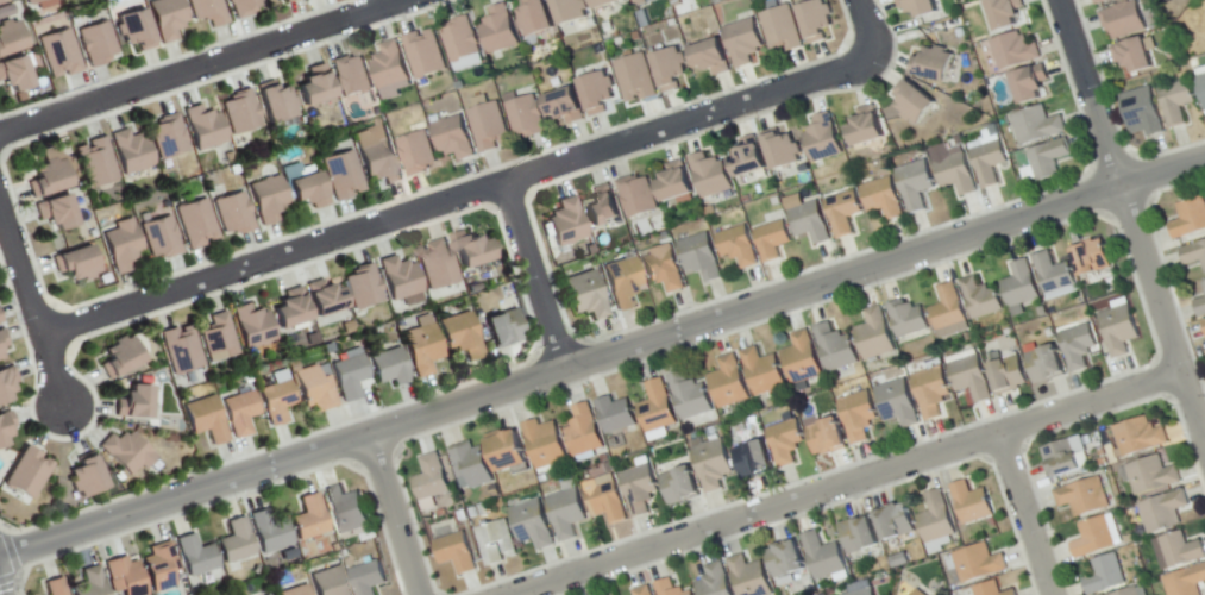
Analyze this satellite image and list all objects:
building: (0, 0)
building: (31, 1)
building: (288, 1)
building: (1102, 1)
building: (640, 2)
building: (603, 4)
building: (918, 7)
building: (244, 8)
building: (5, 10)
building: (569, 11)
building: (208, 12)
building: (1004, 13)
building: (168, 18)
building: (534, 18)
building: (815, 20)
building: (1123, 20)
road: (858, 26)
building: (131, 27)
building: (782, 29)
building: (498, 30)
building: (8, 38)
building: (460, 39)
building: (742, 42)
building: (96, 43)
building: (1015, 51)
building: (59, 54)
building: (425, 54)
building: (709, 57)
building: (1132, 57)
building: (389, 64)
building: (931, 64)
road: (202, 67)
building: (669, 68)
building: (13, 75)
building: (351, 76)
building: (634, 79)
building: (1029, 84)
building: (314, 86)
building: (1201, 86)
building: (595, 93)
building: (912, 101)
building: (1176, 102)
building: (274, 104)
building: (563, 106)
building: (241, 112)
building: (1143, 112)
building: (525, 117)
building: (489, 126)
building: (864, 126)
building: (1036, 126)
building: (203, 127)
building: (168, 137)
building: (452, 138)
building: (822, 138)
building: (132, 151)
building: (780, 151)
building: (416, 154)
building: (1048, 158)
building: (746, 159)
building: (989, 162)
building: (95, 163)
building: (378, 163)
building: (955, 173)
building: (341, 175)
building: (710, 175)
building: (46, 178)
building: (674, 183)
building: (915, 183)
building: (306, 192)
building: (638, 196)
building: (881, 198)
building: (268, 199)
road: (453, 200)
building: (600, 211)
building: (842, 212)
building: (55, 213)
building: (234, 214)
building: (1188, 218)
road: (1131, 220)
building: (566, 223)
building: (809, 223)
building: (196, 224)
building: (161, 238)
building: (771, 239)
building: (123, 245)
building: (736, 246)
building: (470, 251)
building: (1193, 253)
building: (698, 257)
building: (1091, 261)
building: (74, 263)
building: (438, 265)
building: (664, 269)
road: (535, 276)
building: (1054, 276)
building: (400, 278)
building: (623, 282)
building: (1204, 286)
building: (363, 287)
building: (1021, 288)
building: (586, 295)
building: (980, 297)
building: (322, 299)
road: (32, 305)
building: (1200, 306)
building: (289, 311)
building: (948, 312)
building: (906, 319)
building: (503, 325)
building: (1203, 325)
building: (253, 326)
building: (1118, 330)
building: (220, 336)
building: (460, 336)
building: (873, 336)
building: (2, 339)
building: (422, 346)
building: (1078, 346)
building: (835, 349)
building: (181, 350)
road: (602, 357)
building: (0, 358)
building: (118, 358)
building: (801, 359)
building: (1044, 365)
building: (390, 368)
building: (761, 372)
building: (350, 375)
building: (1008, 376)
building: (969, 378)
building: (6, 382)
building: (728, 383)
building: (315, 389)
building: (930, 392)
building: (689, 396)
building: (277, 399)
building: (897, 403)
building: (132, 405)
building: (657, 407)
building: (241, 413)
building: (615, 414)
building: (858, 416)
building: (206, 419)
building: (5, 426)
building: (584, 432)
building: (824, 434)
building: (1138, 437)
building: (784, 443)
building: (544, 444)
building: (503, 451)
building: (127, 452)
building: (1066, 457)
building: (753, 459)
building: (470, 464)
building: (713, 464)
building: (27, 474)
building: (1151, 476)
building: (84, 478)
building: (429, 478)
road: (847, 483)
building: (680, 487)
building: (639, 489)
building: (1082, 497)
building: (605, 500)
building: (972, 503)
building: (565, 508)
building: (346, 511)
building: (1163, 512)
road: (1027, 514)
road: (395, 515)
building: (309, 518)
building: (935, 519)
building: (895, 522)
building: (533, 525)
building: (269, 532)
building: (856, 537)
building: (1093, 539)
building: (237, 543)
building: (496, 543)
building: (1180, 550)
building: (456, 553)
building: (196, 557)
building: (822, 557)
building: (786, 563)
building: (978, 564)
building: (161, 566)
building: (125, 576)
building: (749, 576)
building: (1104, 576)
building: (368, 577)
building: (714, 581)
building: (89, 582)
building: (330, 582)
building: (1185, 582)
building: (55, 585)
building: (670, 588)
building: (991, 589)
building: (296, 591)
building: (642, 591)
building: (1128, 591)
building: (862, 593)
building: (917, 593)
building: (264, 594)

